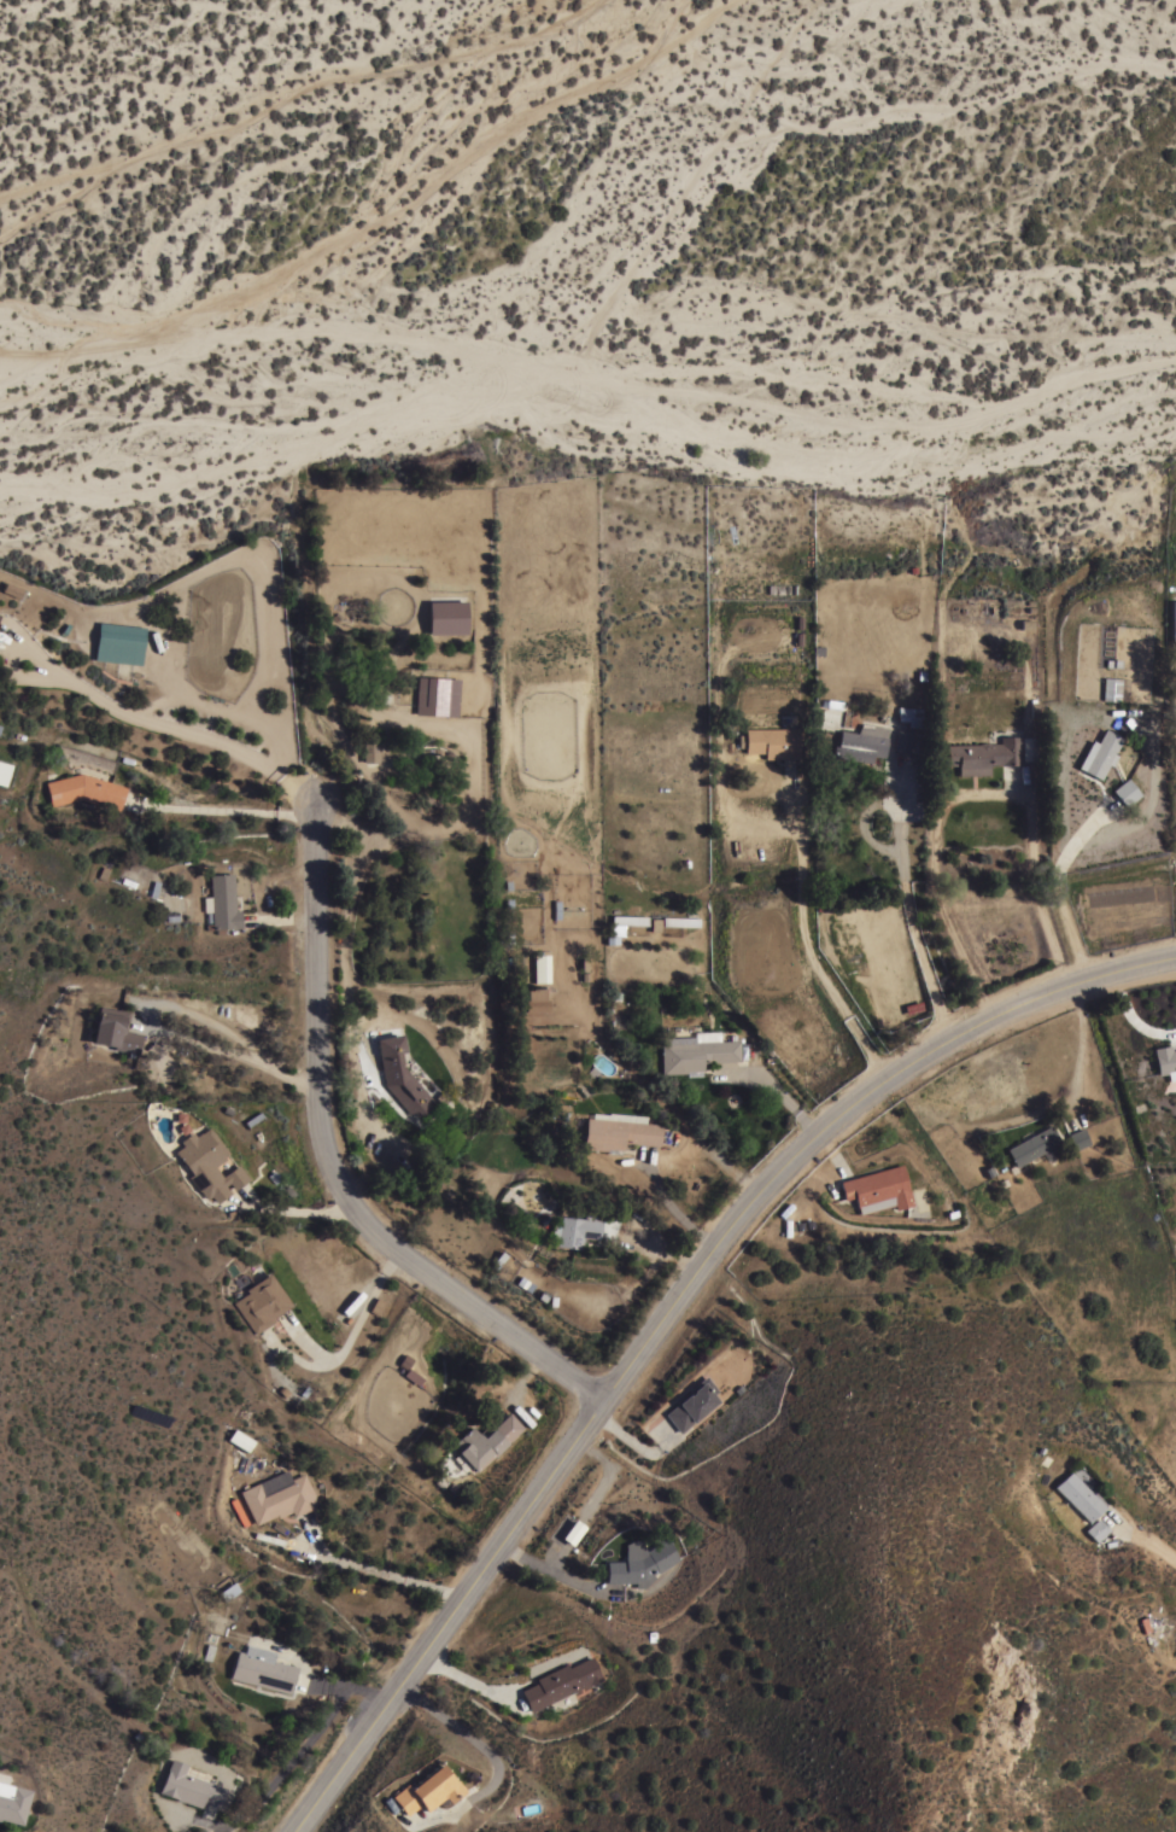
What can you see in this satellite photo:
building: (11, 589)
building: (446, 617)
building: (118, 642)
building: (1111, 688)
building: (435, 696)
road: (160, 722)
building: (906, 740)
building: (772, 741)
building: (861, 743)
building: (381, 749)
building: (1099, 753)
building: (983, 754)
building: (86, 758)
building: (4, 771)
building: (84, 790)
building: (1125, 790)
road: (232, 809)
road: (855, 827)
road: (803, 867)
road: (1055, 891)
building: (222, 903)
road: (908, 914)
building: (628, 920)
building: (679, 921)
building: (540, 967)
building: (536, 1002)
road: (1131, 1015)
building: (115, 1029)
road: (183, 1034)
building: (697, 1050)
building: (1164, 1058)
building: (400, 1075)
road: (773, 1093)
road: (1029, 1115)
building: (618, 1131)
building: (1078, 1138)
building: (1031, 1145)
road: (837, 1149)
road: (330, 1160)
building: (207, 1163)
road: (720, 1163)
building: (878, 1189)
building: (920, 1198)
road: (293, 1210)
building: (575, 1230)
building: (261, 1302)
road: (668, 1312)
road: (523, 1377)
building: (691, 1404)
building: (240, 1439)
building: (485, 1441)
road: (631, 1442)
building: (277, 1495)
building: (1078, 1495)
building: (1096, 1529)
building: (572, 1533)
road: (1151, 1545)
building: (639, 1563)
road: (549, 1570)
road: (373, 1571)
building: (228, 1591)
building: (262, 1668)
road: (463, 1678)
building: (560, 1681)
road: (350, 1694)
road: (492, 1761)
road: (286, 1764)
building: (188, 1786)
building: (427, 1789)
building: (12, 1802)
road: (201, 1821)

